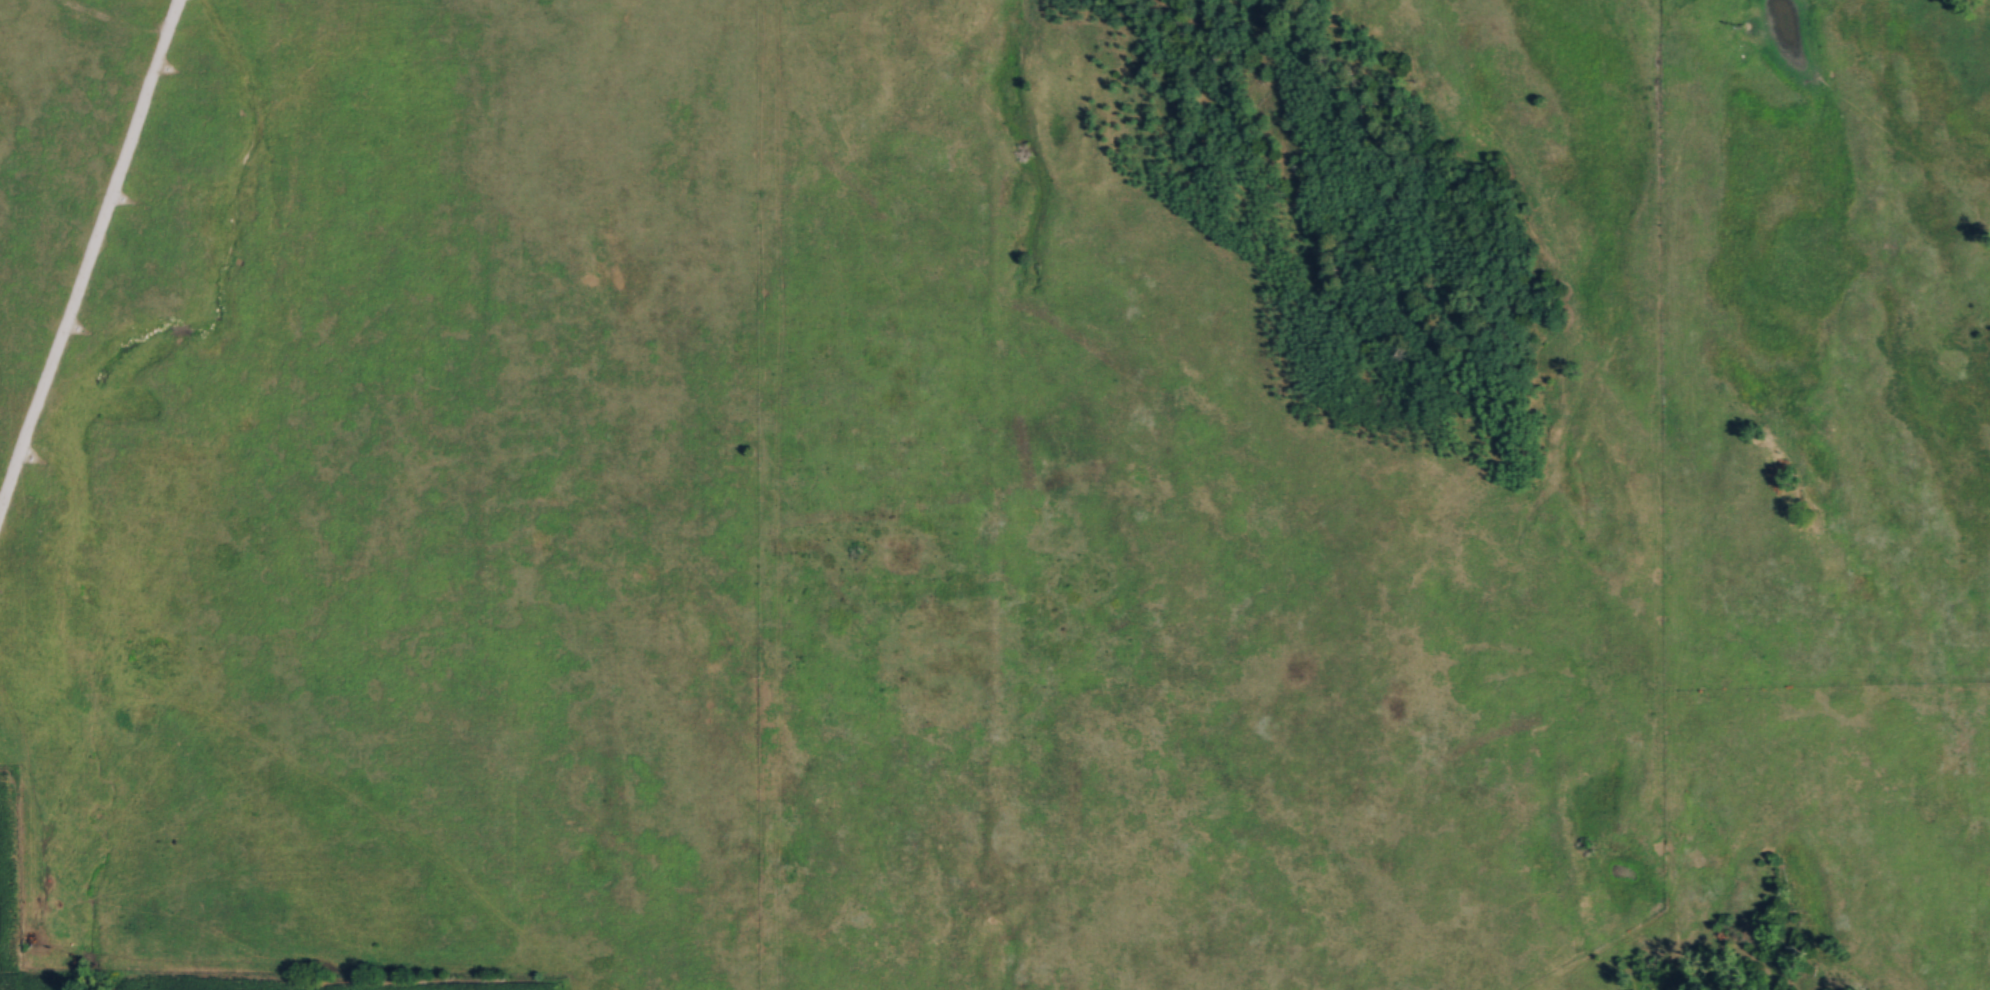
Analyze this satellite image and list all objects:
airport: (382, 495)

